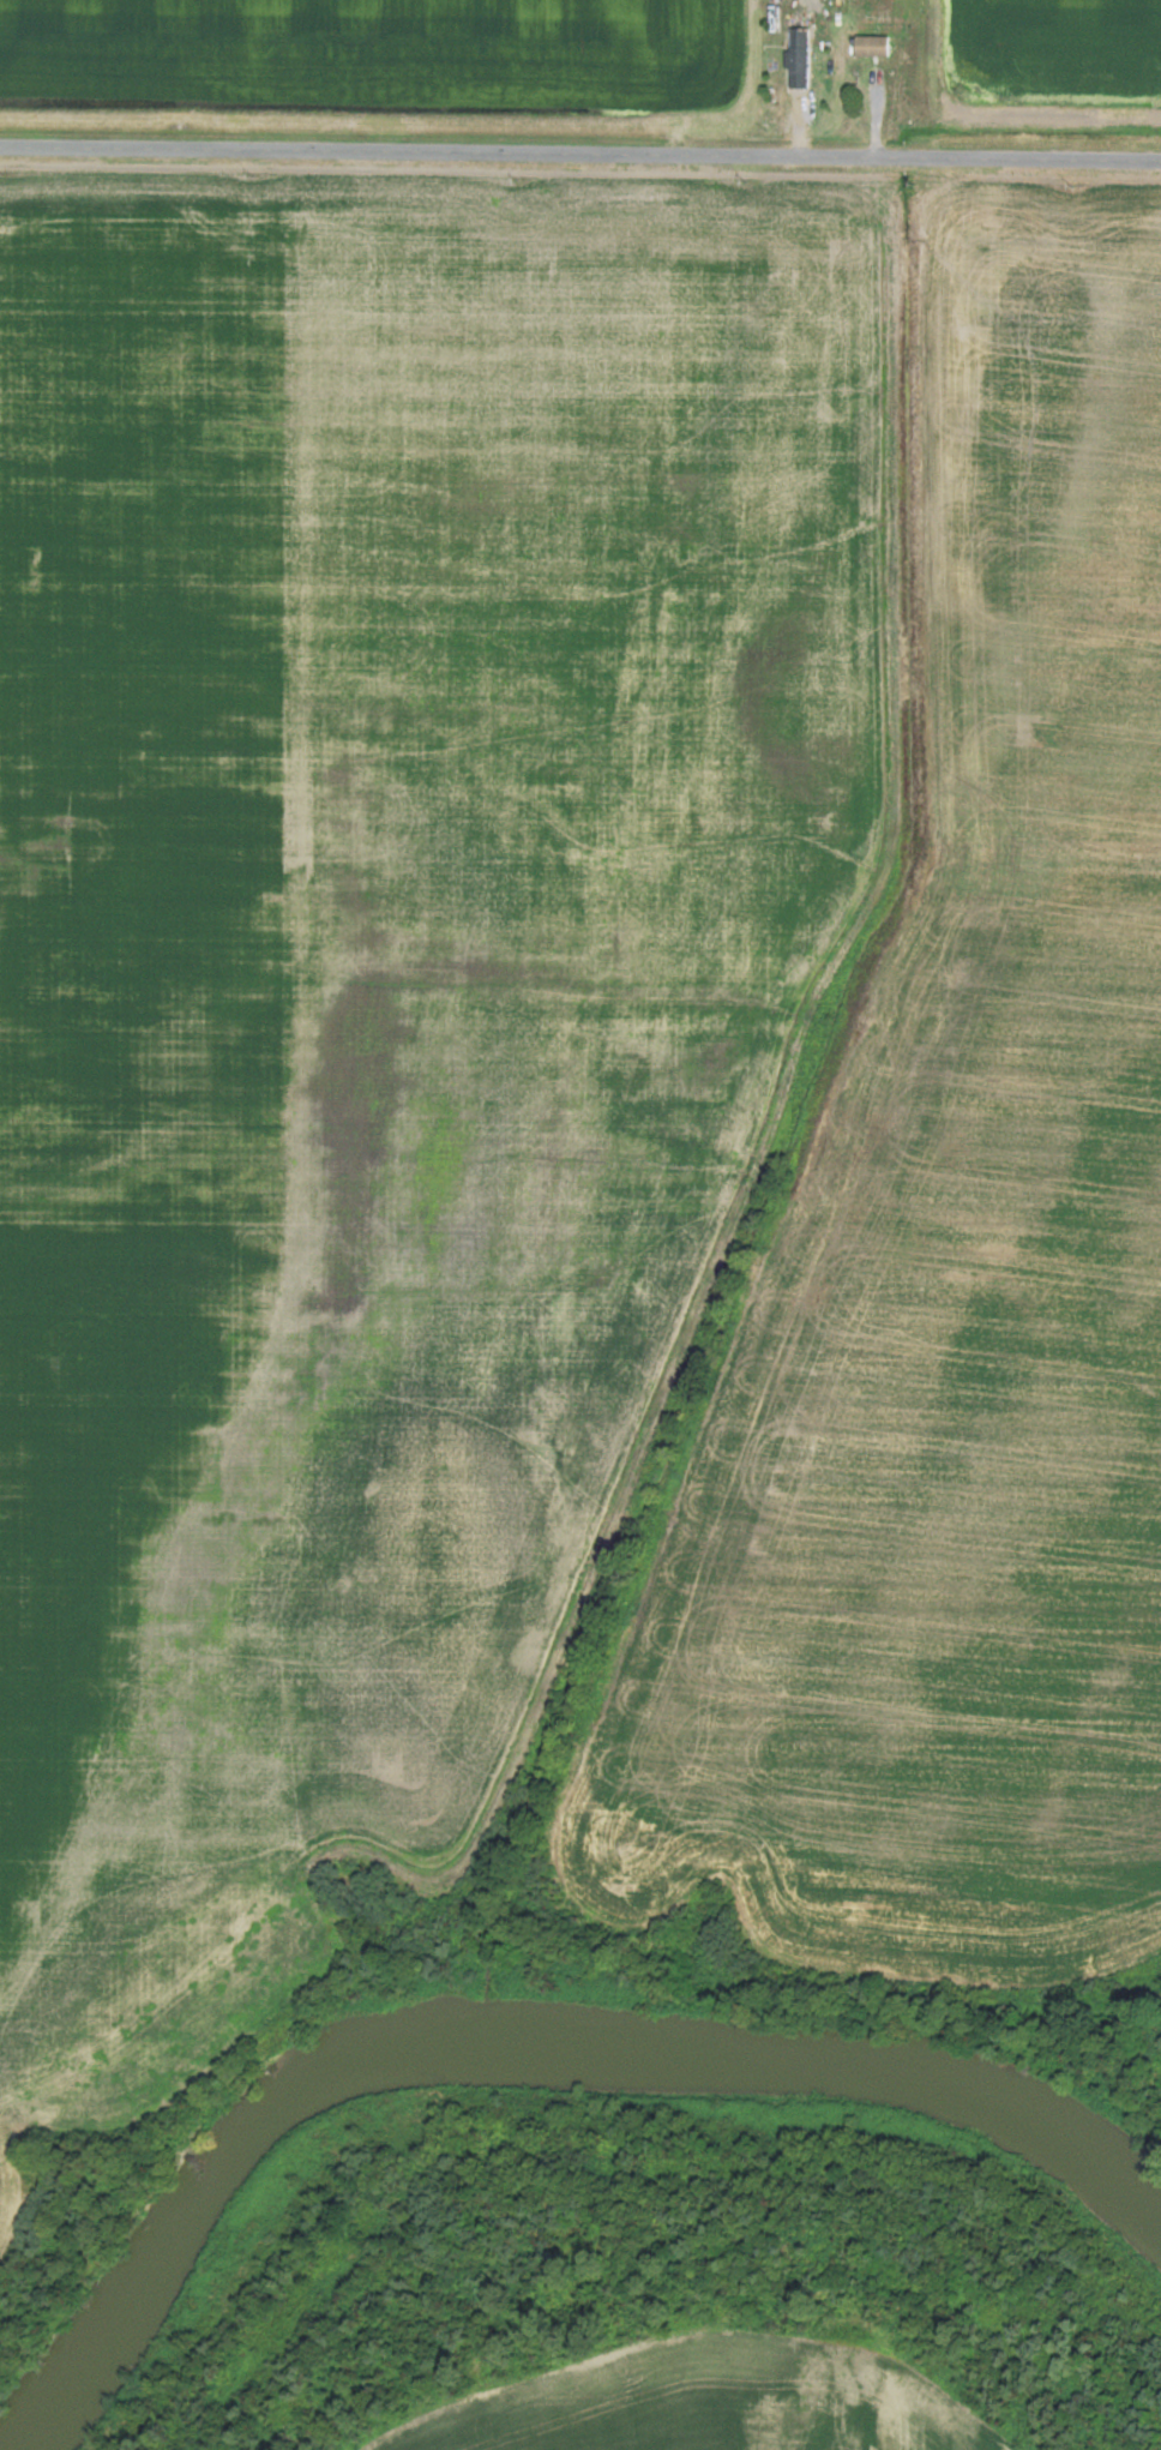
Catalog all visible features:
building: (874, 44)
building: (800, 58)
road: (580, 154)

